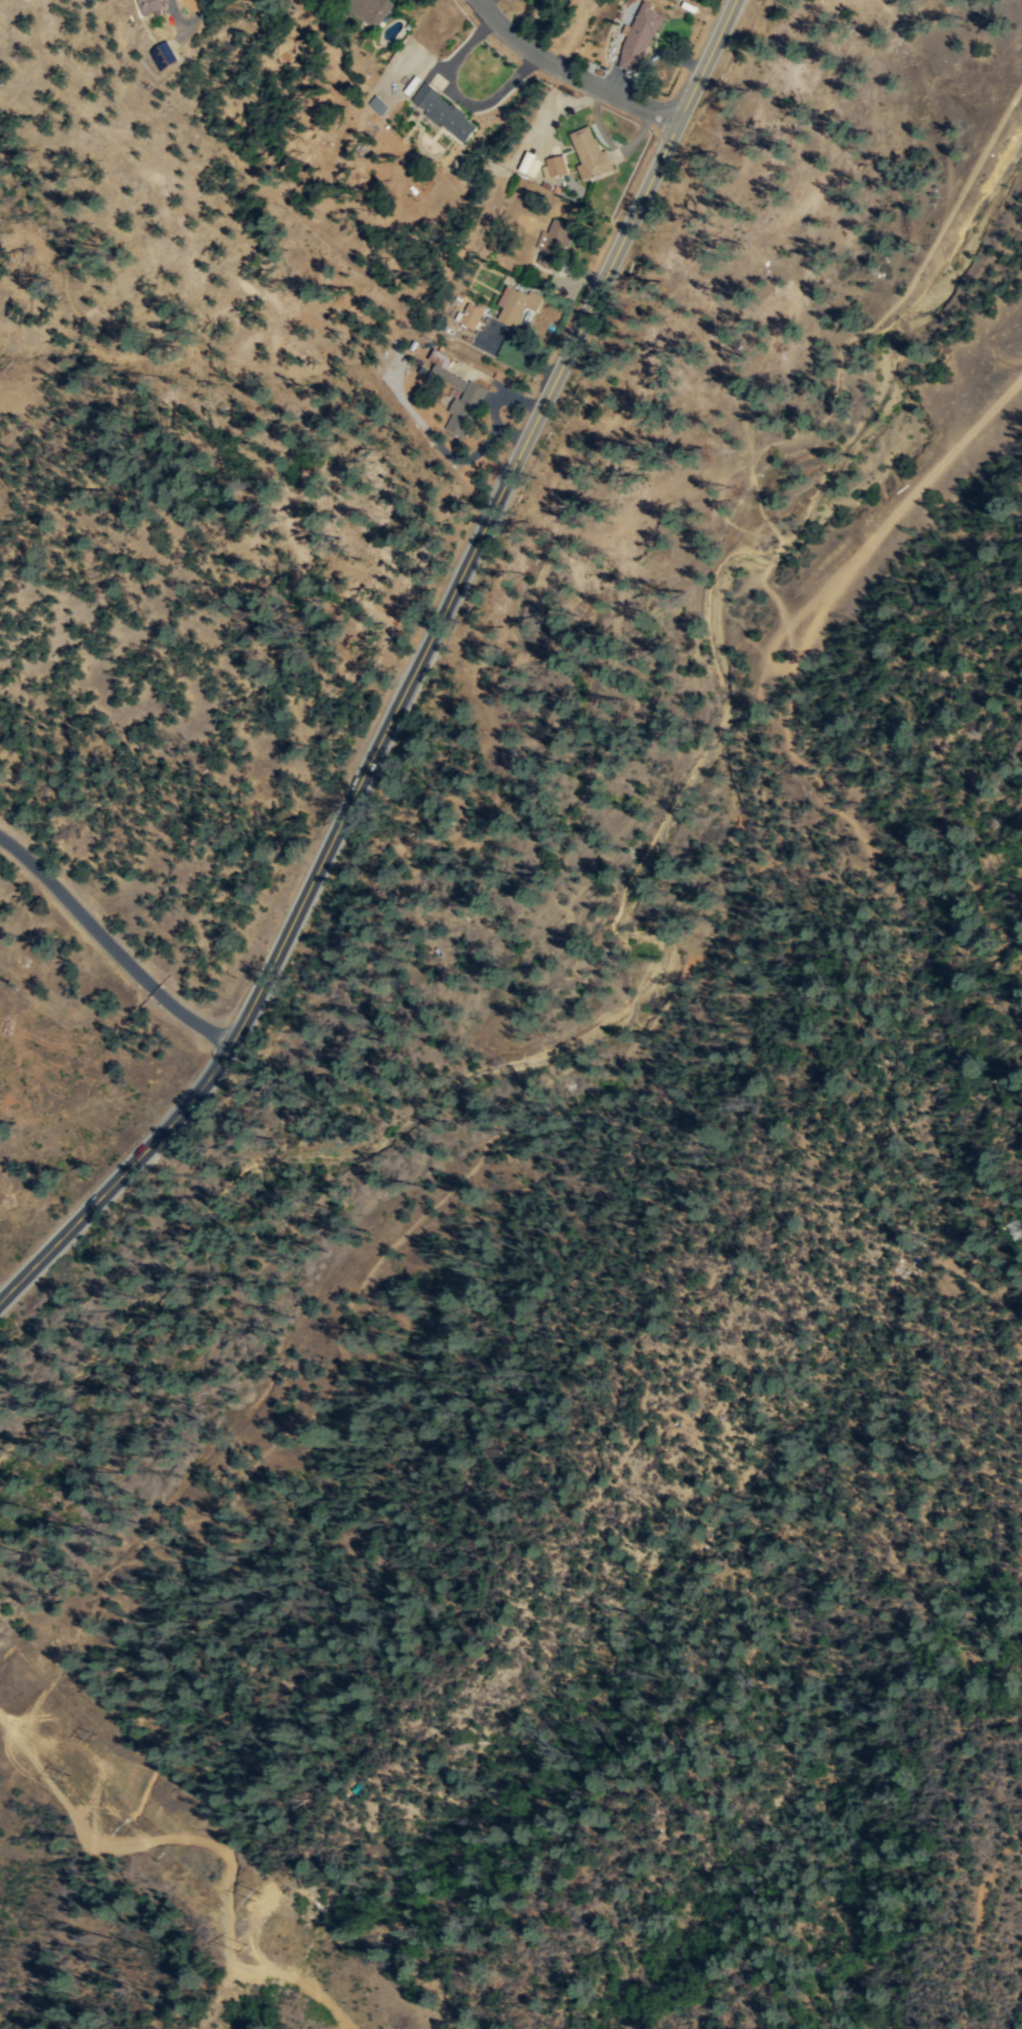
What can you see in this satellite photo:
building: (151, 6)
building: (368, 10)
building: (640, 37)
building: (162, 53)
road: (705, 60)
road: (569, 80)
building: (377, 103)
building: (444, 112)
building: (589, 151)
building: (533, 166)
building: (556, 166)
building: (554, 243)
building: (517, 305)
building: (471, 314)
building: (462, 334)
building: (473, 394)
road: (925, 482)
road: (773, 663)
road: (382, 740)
road: (738, 927)
road: (111, 944)
road: (428, 1213)
road: (225, 1505)
power tower: (91, 1737)
road: (45, 1741)
road: (110, 1768)
power tower: (65, 1779)
road: (115, 1846)
power tower: (255, 1890)
road: (979, 1926)
power tower: (246, 1952)
road: (233, 1961)
road: (291, 1975)

